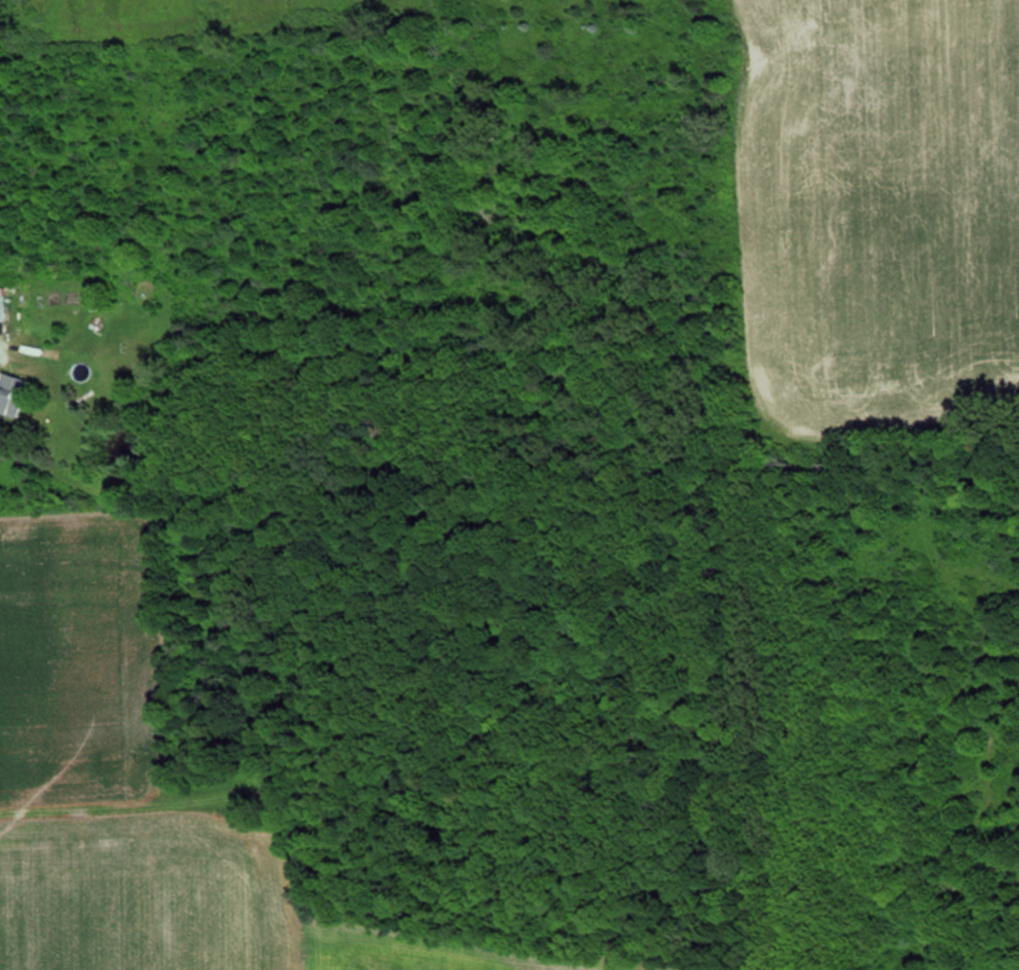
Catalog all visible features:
building: (15, 394)

